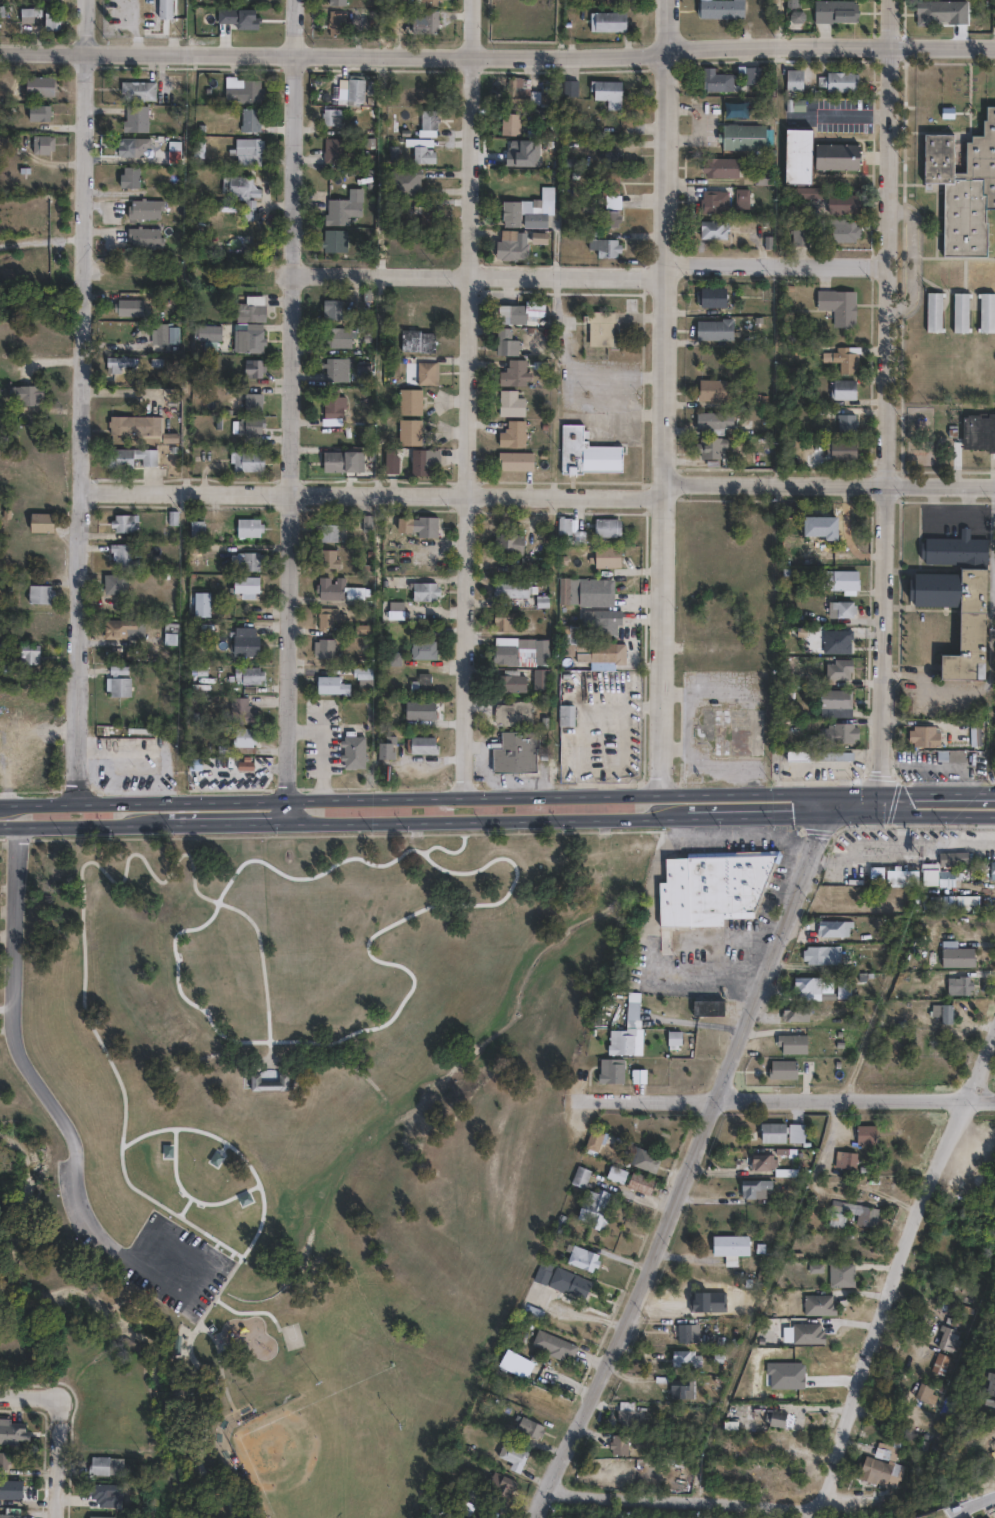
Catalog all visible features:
building: (334, 2)
building: (426, 2)
building: (162, 8)
building: (721, 8)
building: (935, 10)
building: (235, 13)
building: (832, 13)
building: (22, 14)
building: (48, 19)
building: (606, 21)
building: (333, 22)
building: (424, 22)
road: (497, 54)
building: (753, 73)
building: (793, 78)
building: (719, 80)
building: (837, 80)
building: (36, 85)
building: (567, 87)
building: (135, 89)
building: (239, 89)
building: (352, 89)
building: (513, 89)
building: (605, 92)
building: (35, 112)
building: (327, 116)
building: (134, 117)
building: (246, 118)
building: (426, 119)
building: (507, 123)
building: (745, 136)
building: (38, 143)
building: (246, 145)
building: (130, 146)
building: (330, 149)
building: (421, 154)
building: (609, 154)
building: (799, 154)
building: (837, 156)
building: (718, 167)
building: (127, 176)
building: (760, 177)
building: (403, 181)
building: (236, 185)
building: (964, 185)
building: (802, 191)
building: (606, 195)
building: (738, 198)
building: (707, 202)
building: (842, 203)
building: (142, 208)
building: (337, 210)
building: (516, 210)
building: (423, 213)
building: (532, 219)
building: (711, 230)
building: (844, 231)
building: (142, 236)
building: (798, 236)
building: (330, 240)
building: (245, 244)
building: (506, 244)
building: (603, 246)
road: (591, 275)
building: (710, 298)
building: (836, 307)
building: (131, 308)
building: (251, 309)
building: (332, 310)
building: (933, 310)
building: (960, 310)
building: (987, 310)
building: (513, 313)
building: (713, 329)
building: (597, 330)
building: (213, 332)
building: (164, 335)
building: (336, 338)
building: (252, 339)
building: (418, 342)
building: (505, 342)
building: (844, 359)
building: (116, 364)
building: (254, 369)
building: (336, 370)
building: (513, 373)
building: (426, 374)
building: (841, 389)
building: (712, 390)
building: (25, 393)
road: (661, 397)
road: (884, 397)
road: (466, 398)
building: (413, 401)
road: (85, 402)
building: (254, 402)
building: (510, 403)
building: (334, 405)
road: (293, 412)
building: (711, 423)
building: (844, 423)
building: (137, 425)
building: (249, 426)
building: (410, 432)
building: (978, 432)
building: (512, 434)
building: (709, 447)
building: (839, 450)
building: (587, 453)
building: (133, 458)
building: (514, 460)
building: (248, 461)
building: (392, 461)
building: (334, 462)
building: (424, 462)
road: (828, 485)
road: (372, 496)
building: (41, 522)
building: (124, 522)
building: (368, 523)
building: (788, 526)
building: (248, 527)
building: (419, 527)
building: (606, 527)
building: (819, 527)
building: (197, 528)
building: (569, 531)
building: (328, 534)
road: (993, 536)
building: (507, 541)
building: (122, 556)
building: (607, 556)
building: (252, 560)
building: (327, 560)
building: (838, 580)
building: (115, 582)
building: (246, 585)
building: (510, 588)
building: (339, 591)
building: (425, 592)
building: (595, 592)
building: (40, 593)
building: (957, 596)
road: (993, 596)
building: (201, 602)
building: (842, 609)
building: (327, 618)
building: (505, 621)
building: (599, 622)
building: (123, 627)
building: (170, 633)
building: (834, 642)
building: (244, 644)
building: (323, 649)
building: (591, 649)
building: (992, 650)
building: (423, 651)
building: (29, 653)
building: (521, 653)
building: (836, 670)
building: (248, 674)
building: (362, 674)
building: (540, 679)
building: (117, 681)
building: (509, 682)
building: (421, 684)
road: (718, 685)
building: (331, 686)
road: (920, 692)
building: (835, 699)
building: (241, 710)
building: (420, 712)
building: (515, 713)
building: (565, 715)
road: (689, 719)
building: (840, 733)
building: (967, 736)
building: (924, 737)
building: (248, 743)
building: (429, 746)
building: (387, 747)
building: (396, 749)
building: (360, 753)
building: (523, 753)
building: (954, 755)
building: (801, 756)
road: (156, 757)
building: (834, 757)
road: (933, 764)
road: (713, 766)
road: (809, 767)
road: (39, 784)
road: (855, 794)
traffic signals: (879, 794)
road: (937, 794)
road: (425, 797)
road: (10, 804)
road: (879, 805)
traffic signals: (880, 816)
road: (904, 816)
road: (744, 818)
road: (481, 820)
road: (217, 825)
road: (751, 825)
road: (82, 827)
road: (10, 828)
road: (900, 828)
road: (952, 828)
road: (900, 841)
road: (805, 844)
building: (953, 858)
building: (990, 872)
building: (876, 874)
building: (935, 876)
building: (899, 883)
building: (708, 890)
building: (938, 903)
building: (853, 904)
building: (831, 930)
building: (820, 956)
building: (951, 956)
road: (743, 985)
building: (953, 985)
building: (805, 986)
building: (841, 989)
road: (750, 990)
building: (707, 1009)
building: (945, 1012)
building: (792, 1014)
building: (939, 1015)
building: (626, 1032)
building: (672, 1041)
building: (791, 1045)
building: (781, 1070)
building: (609, 1072)
building: (636, 1078)
building: (270, 1082)
road: (50, 1091)
road: (792, 1094)
park: (294, 1128)
building: (770, 1133)
building: (864, 1135)
building: (591, 1141)
road: (688, 1157)
building: (640, 1159)
building: (843, 1160)
building: (760, 1162)
building: (613, 1174)
building: (577, 1177)
building: (638, 1183)
building: (752, 1188)
building: (590, 1208)
building: (853, 1212)
building: (833, 1221)
building: (728, 1248)
road: (902, 1255)
building: (580, 1258)
parking lot: (175, 1265)
building: (539, 1272)
building: (838, 1275)
building: (565, 1284)
building: (961, 1286)
building: (816, 1305)
building: (529, 1312)
building: (684, 1332)
building: (805, 1335)
building: (942, 1341)
building: (551, 1346)
building: (678, 1360)
building: (937, 1367)
building: (988, 1388)
building: (677, 1391)
road: (30, 1395)
building: (921, 1396)
building: (624, 1420)
building: (773, 1420)
building: (527, 1429)
building: (13, 1432)
building: (616, 1445)
building: (882, 1456)
building: (510, 1457)
building: (4, 1460)
road: (61, 1463)
building: (105, 1466)
building: (875, 1474)
building: (497, 1485)
building: (11, 1488)
building: (103, 1495)
road: (692, 1497)
building: (11, 1514)
building: (101, 1516)

